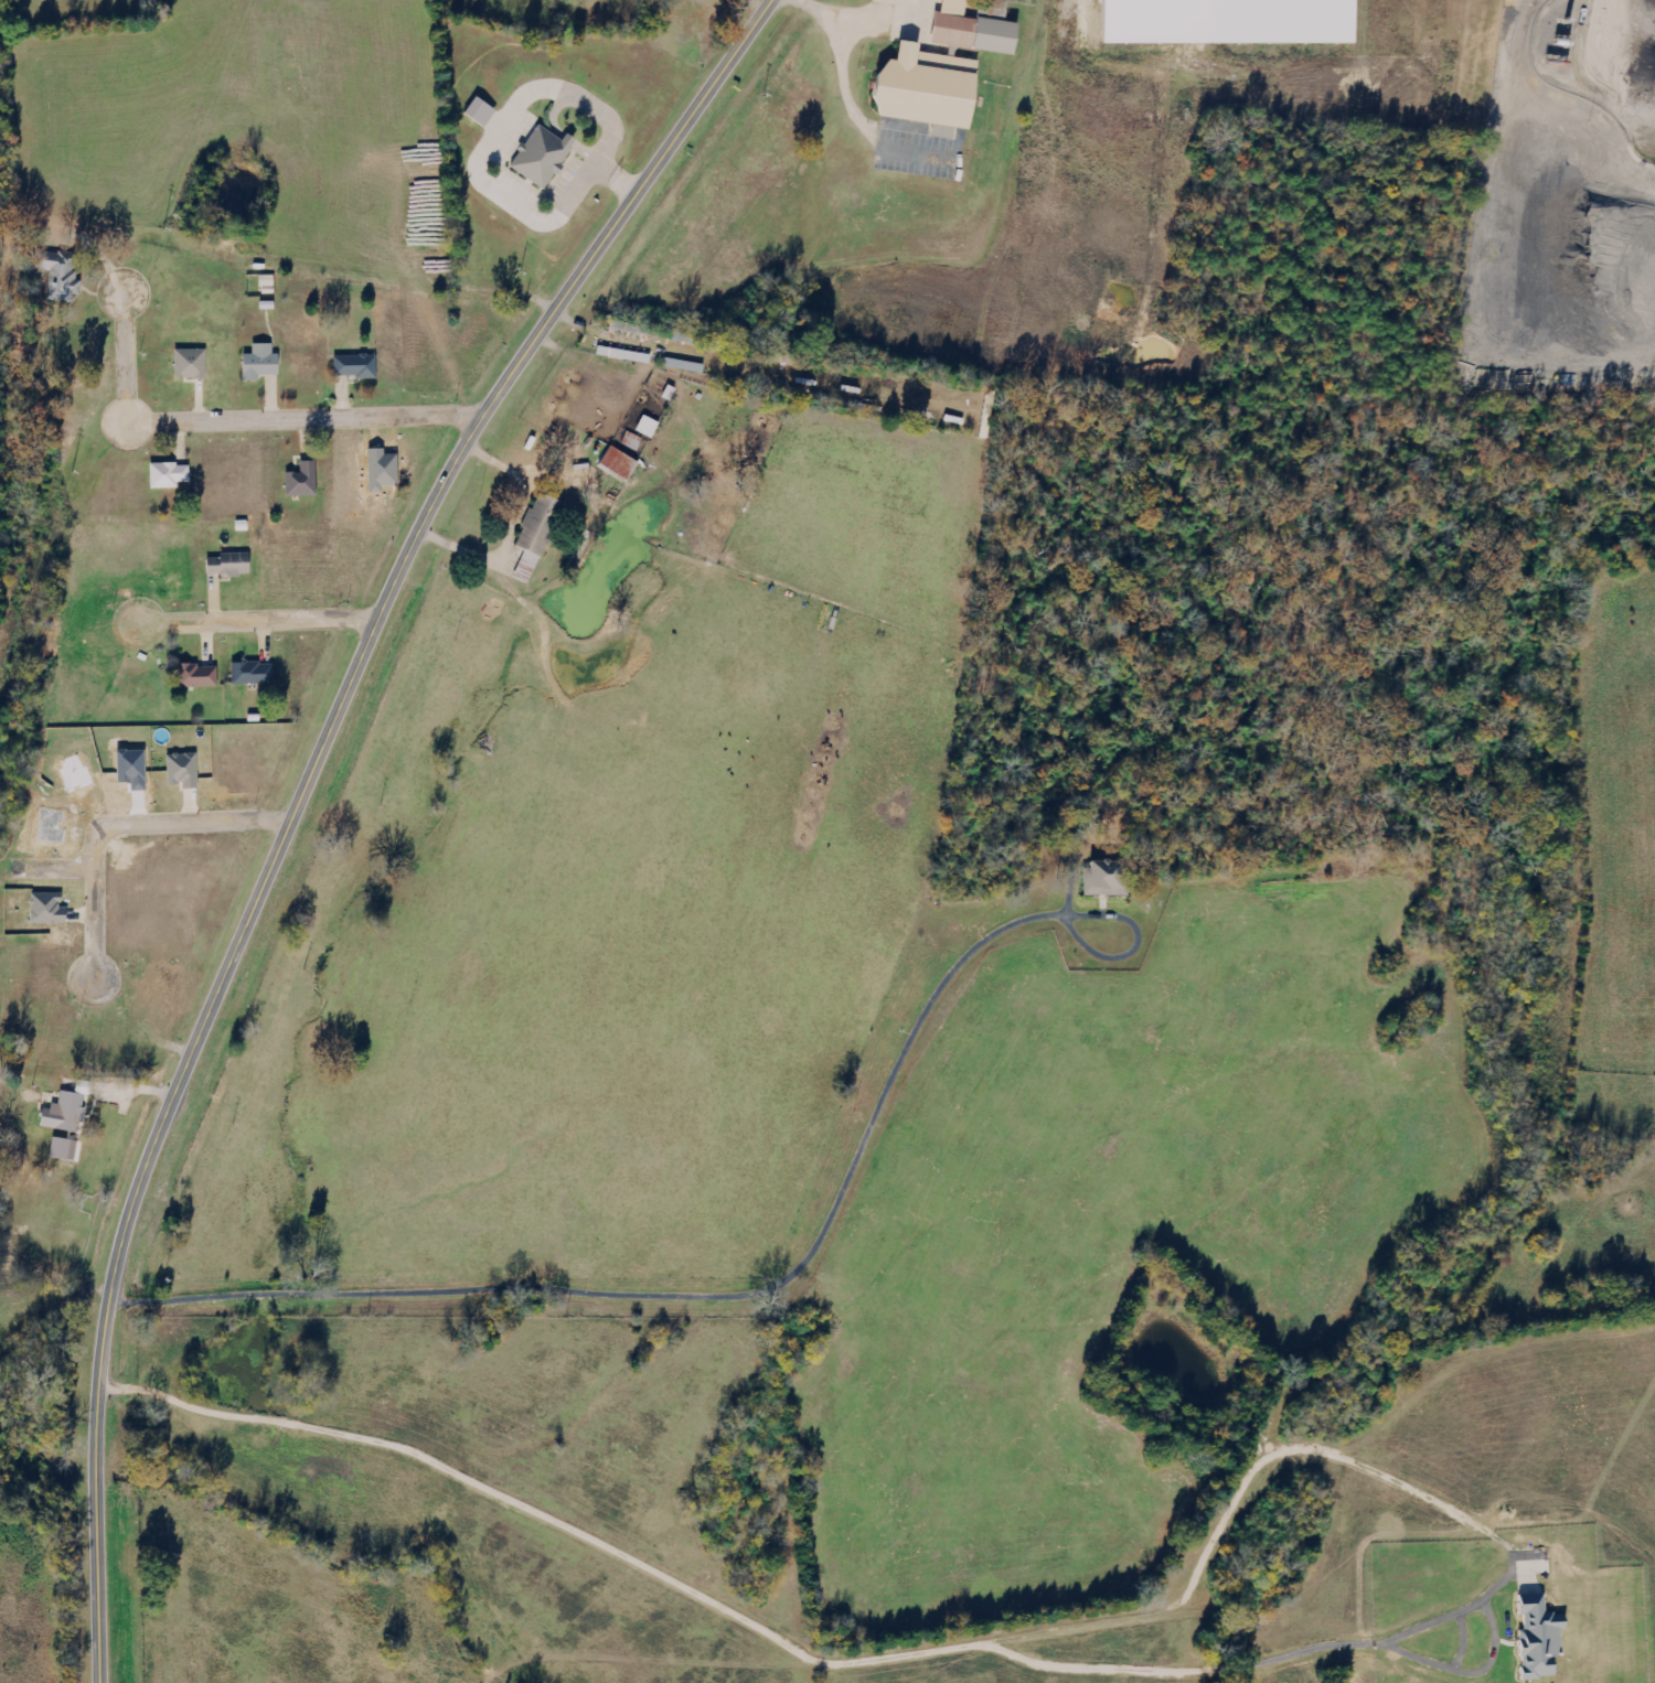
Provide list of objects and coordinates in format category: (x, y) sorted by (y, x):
building: (1274, 21)
building: (967, 29)
building: (922, 87)
building: (484, 110)
building: (536, 157)
building: (53, 274)
building: (186, 362)
building: (255, 362)
building: (352, 364)
road: (239, 424)
building: (651, 427)
building: (623, 462)
building: (163, 473)
building: (298, 480)
building: (540, 535)
building: (226, 564)
road: (260, 621)
building: (192, 674)
building: (247, 674)
building: (186, 770)
road: (303, 795)
road: (120, 822)
building: (1100, 878)
building: (60, 1112)
building: (64, 1148)
building: (1536, 1637)

